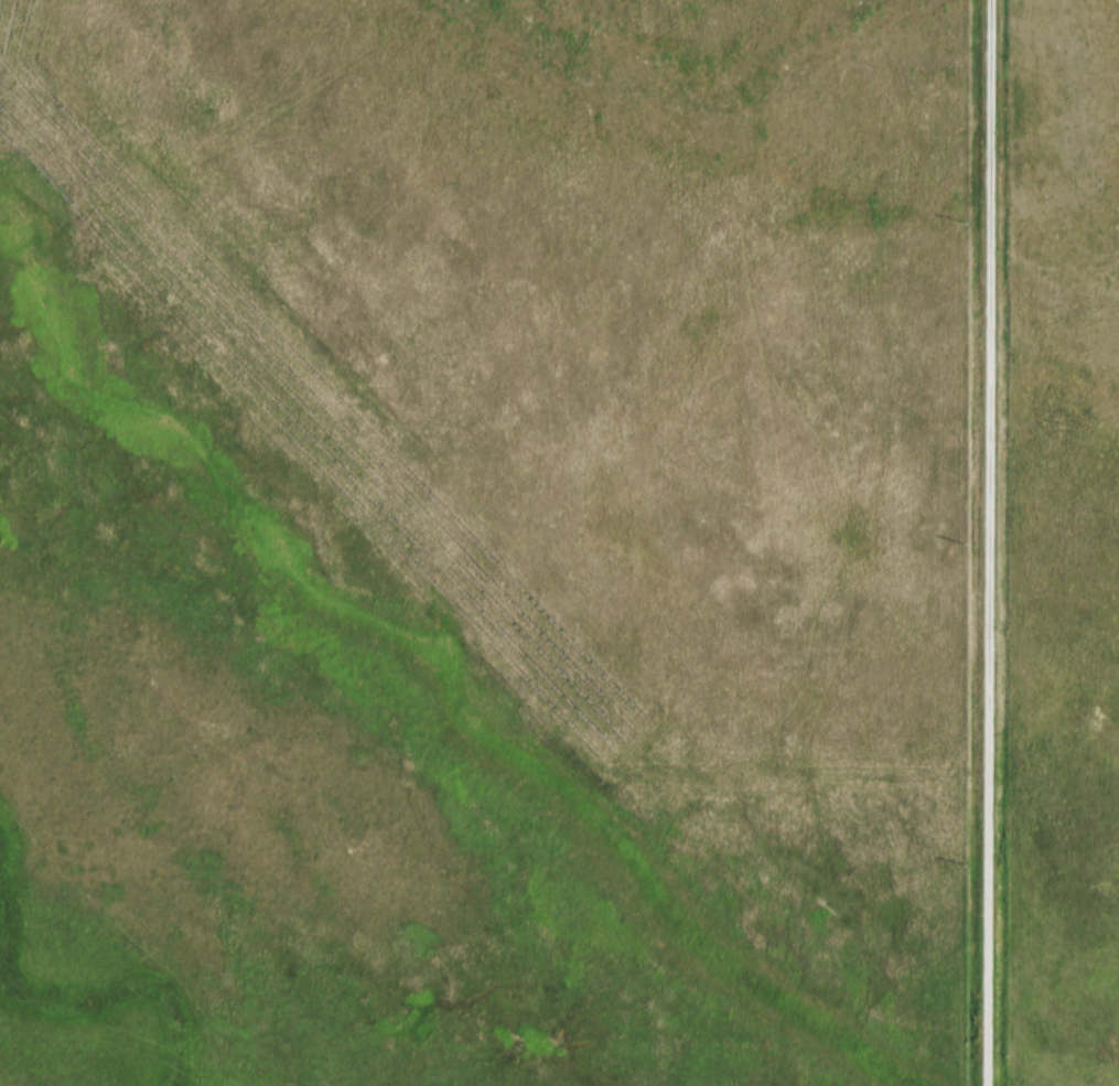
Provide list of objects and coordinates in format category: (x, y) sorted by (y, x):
road: (991, 542)

